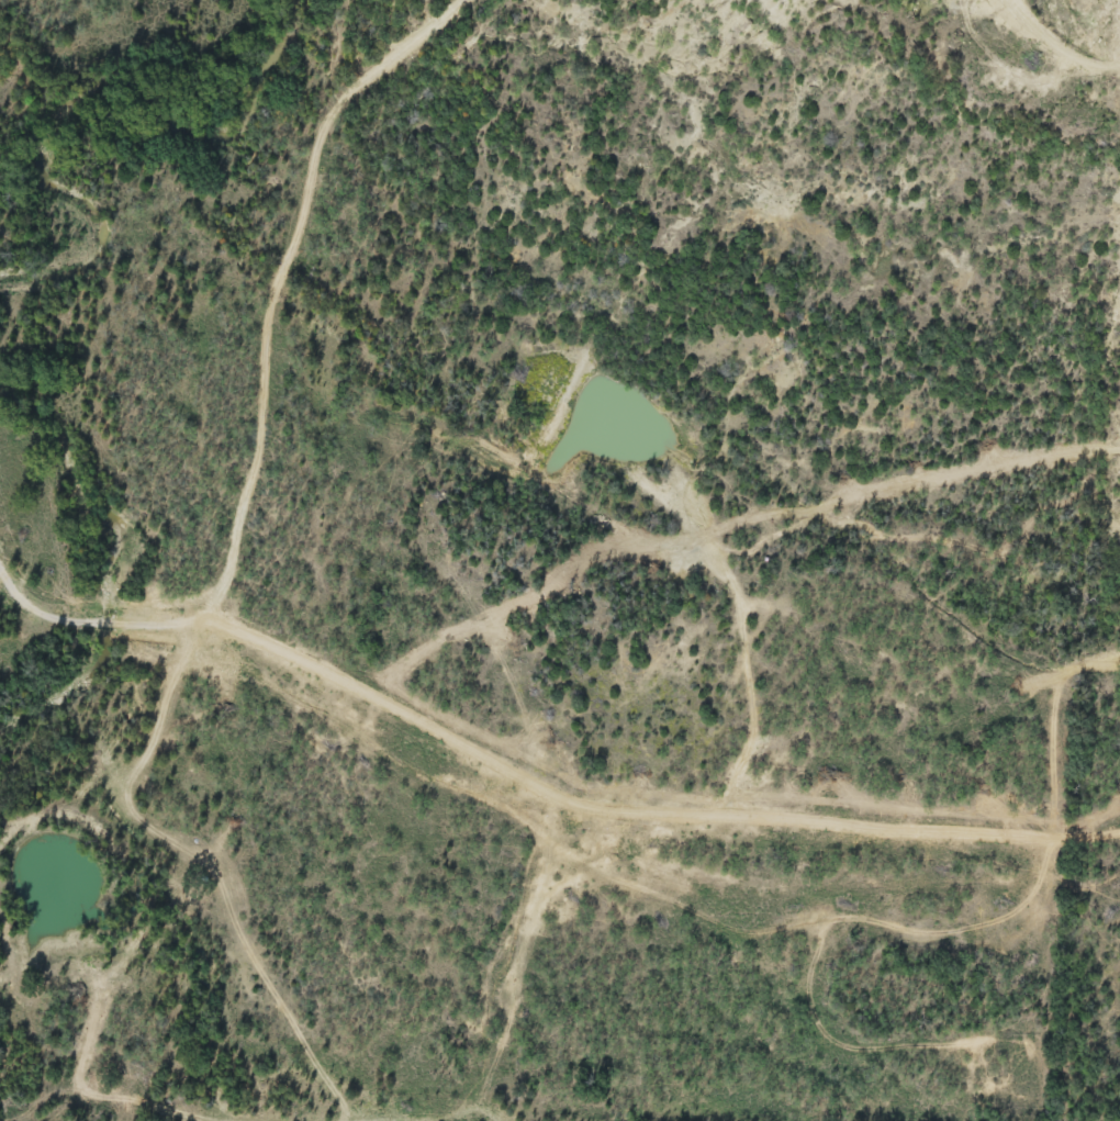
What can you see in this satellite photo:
road: (259, 386)

